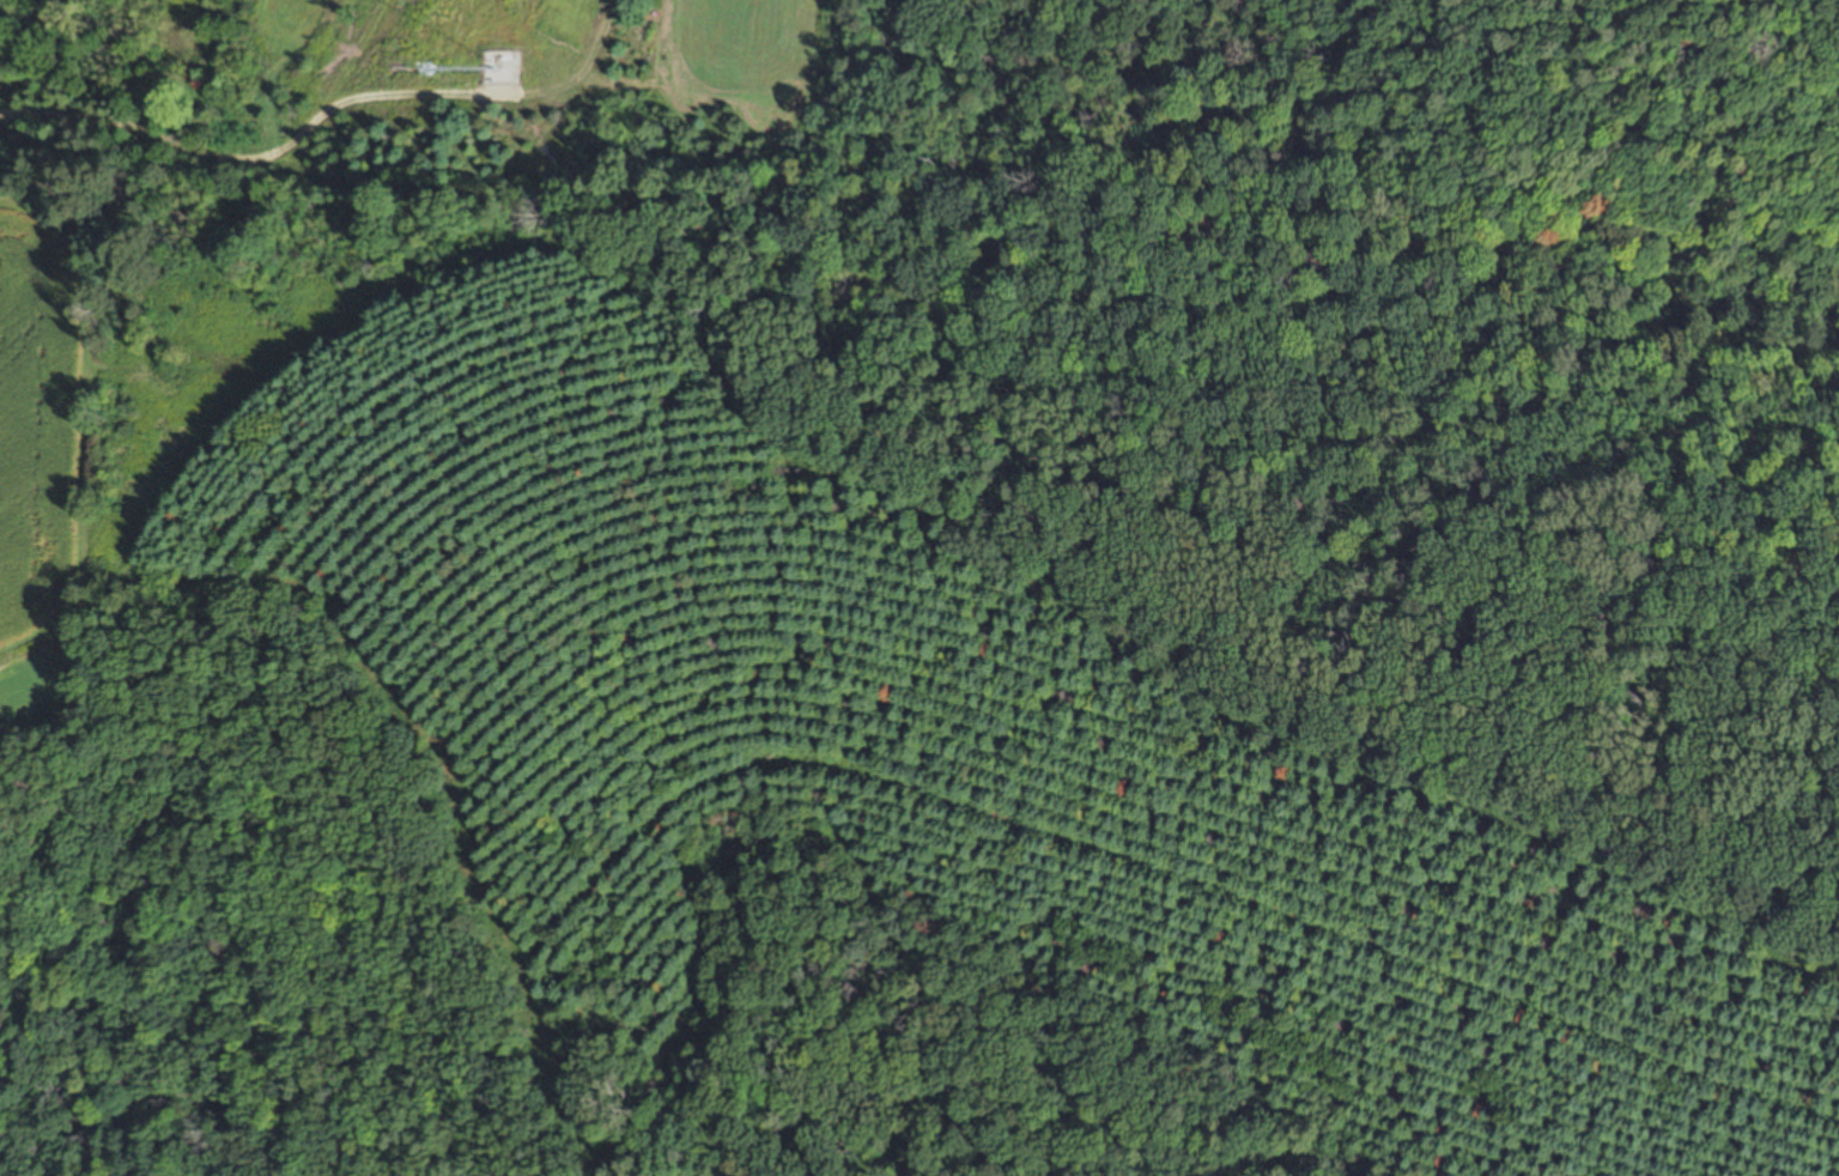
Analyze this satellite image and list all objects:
road: (265, 156)

